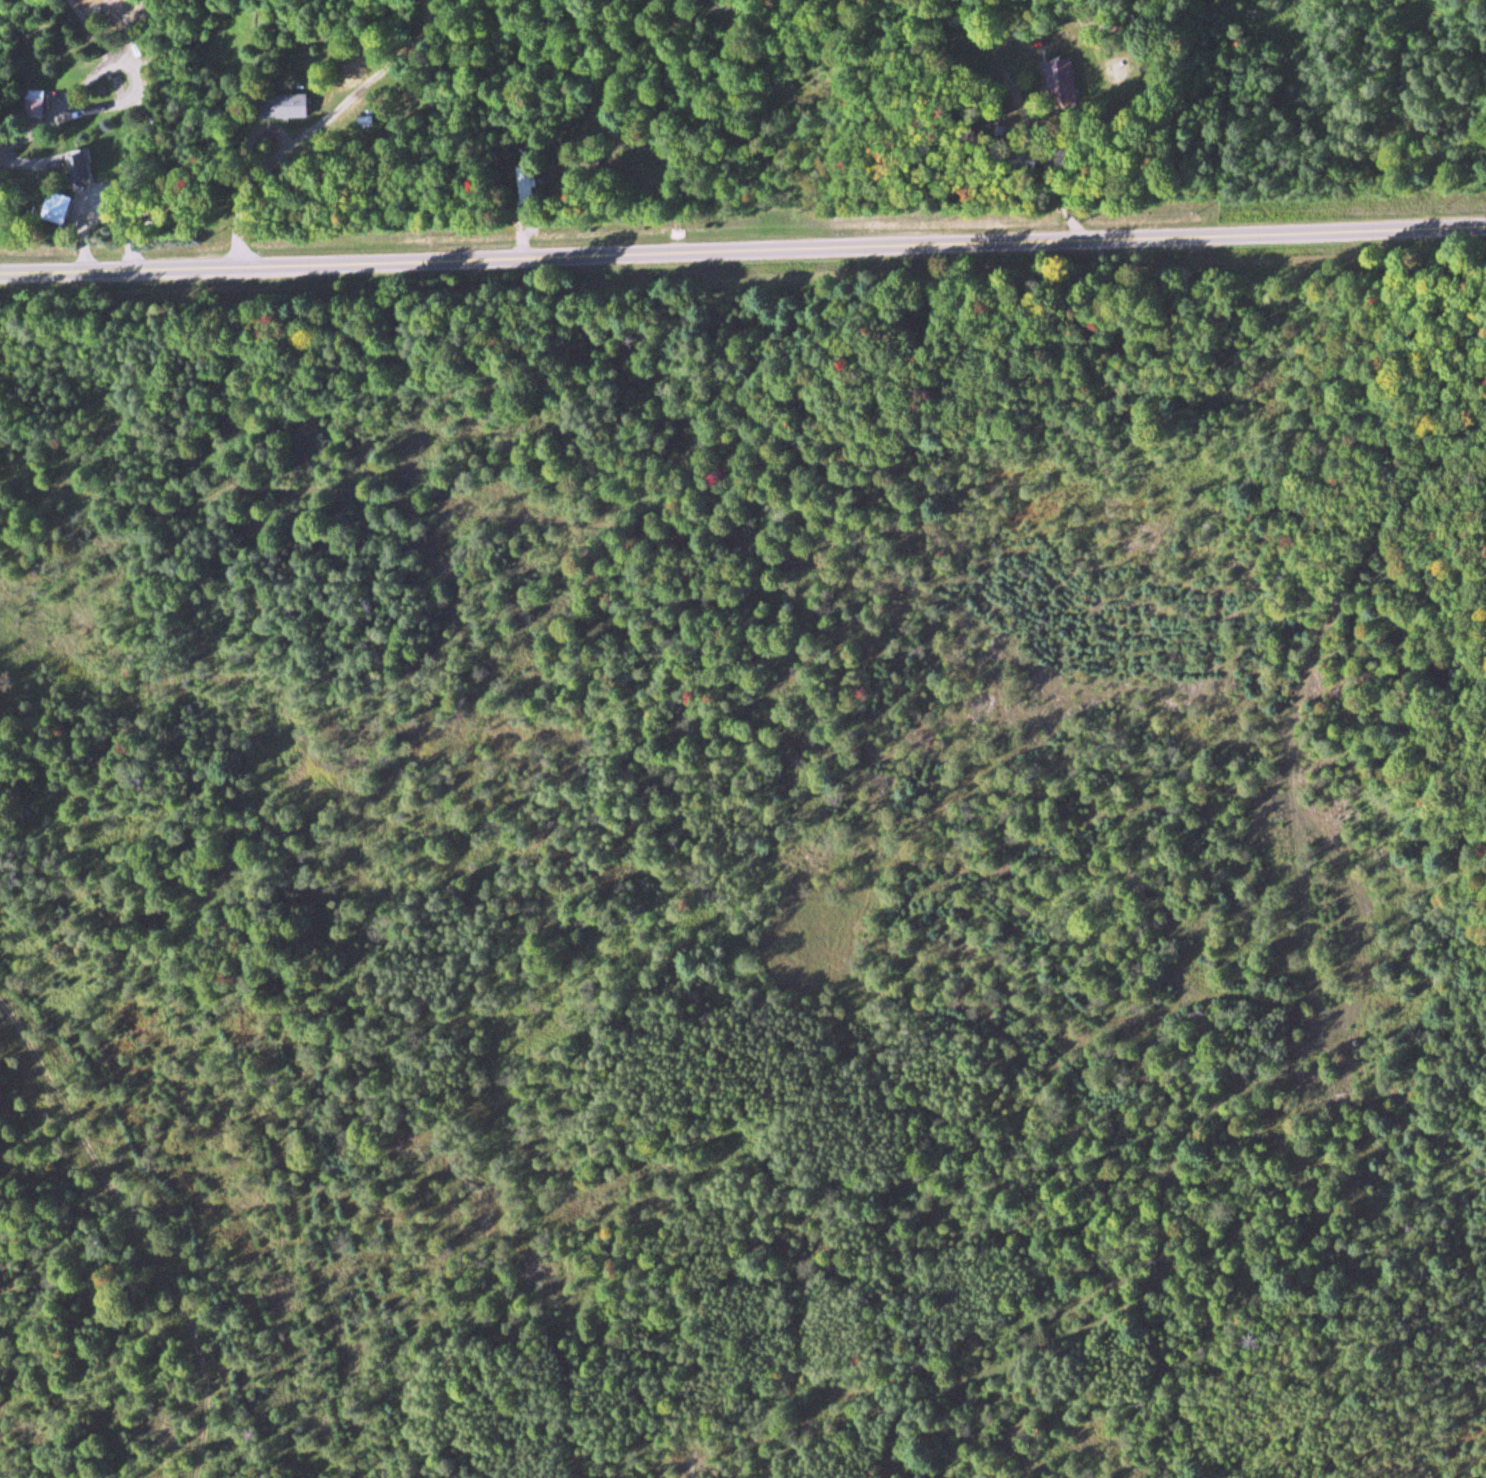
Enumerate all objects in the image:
building: (1060, 84)
building: (39, 105)
building: (284, 108)
building: (378, 125)
building: (87, 164)
building: (532, 183)
road: (743, 259)
road: (137, 1228)

